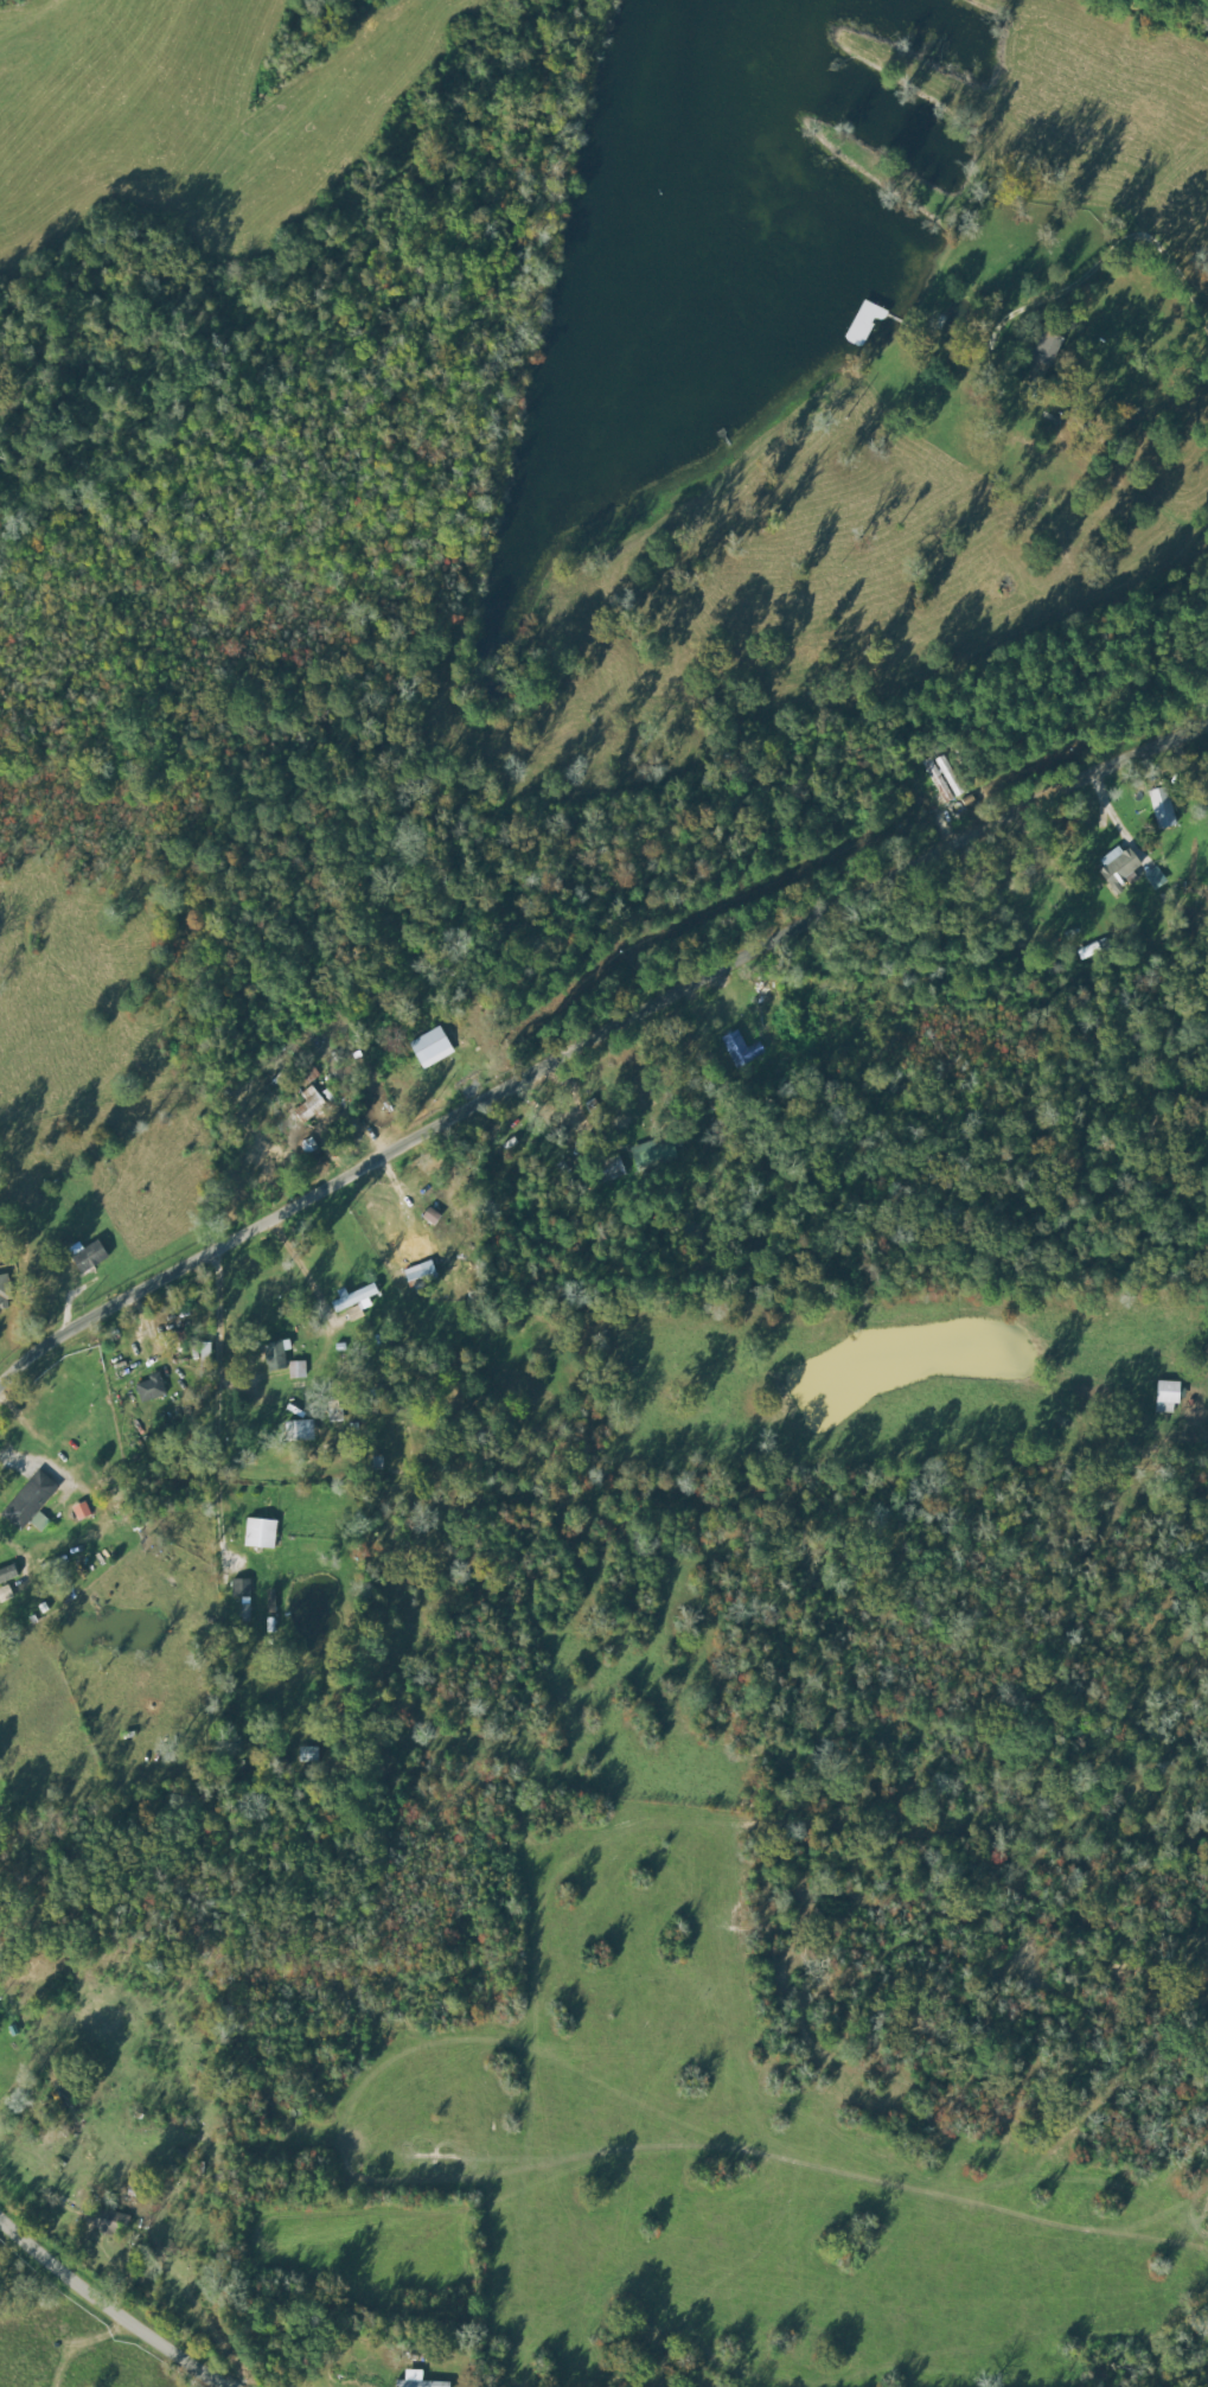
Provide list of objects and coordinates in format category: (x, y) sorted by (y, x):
building: (862, 324)
building: (1040, 357)
road: (976, 532)
building: (948, 776)
building: (1161, 809)
building: (1118, 867)
road: (581, 1014)
building: (430, 1047)
building: (739, 1049)
building: (308, 1105)
building: (653, 1153)
building: (609, 1169)
building: (420, 1275)
building: (353, 1298)
building: (2, 1307)
road: (270, 1311)
building: (273, 1357)
building: (149, 1389)
building: (1167, 1392)
building: (295, 1431)
building: (77, 1435)
road: (39, 1461)
building: (28, 1500)
building: (260, 1534)
building: (239, 1589)
building: (107, 2223)
road: (115, 2324)
building: (421, 2385)

